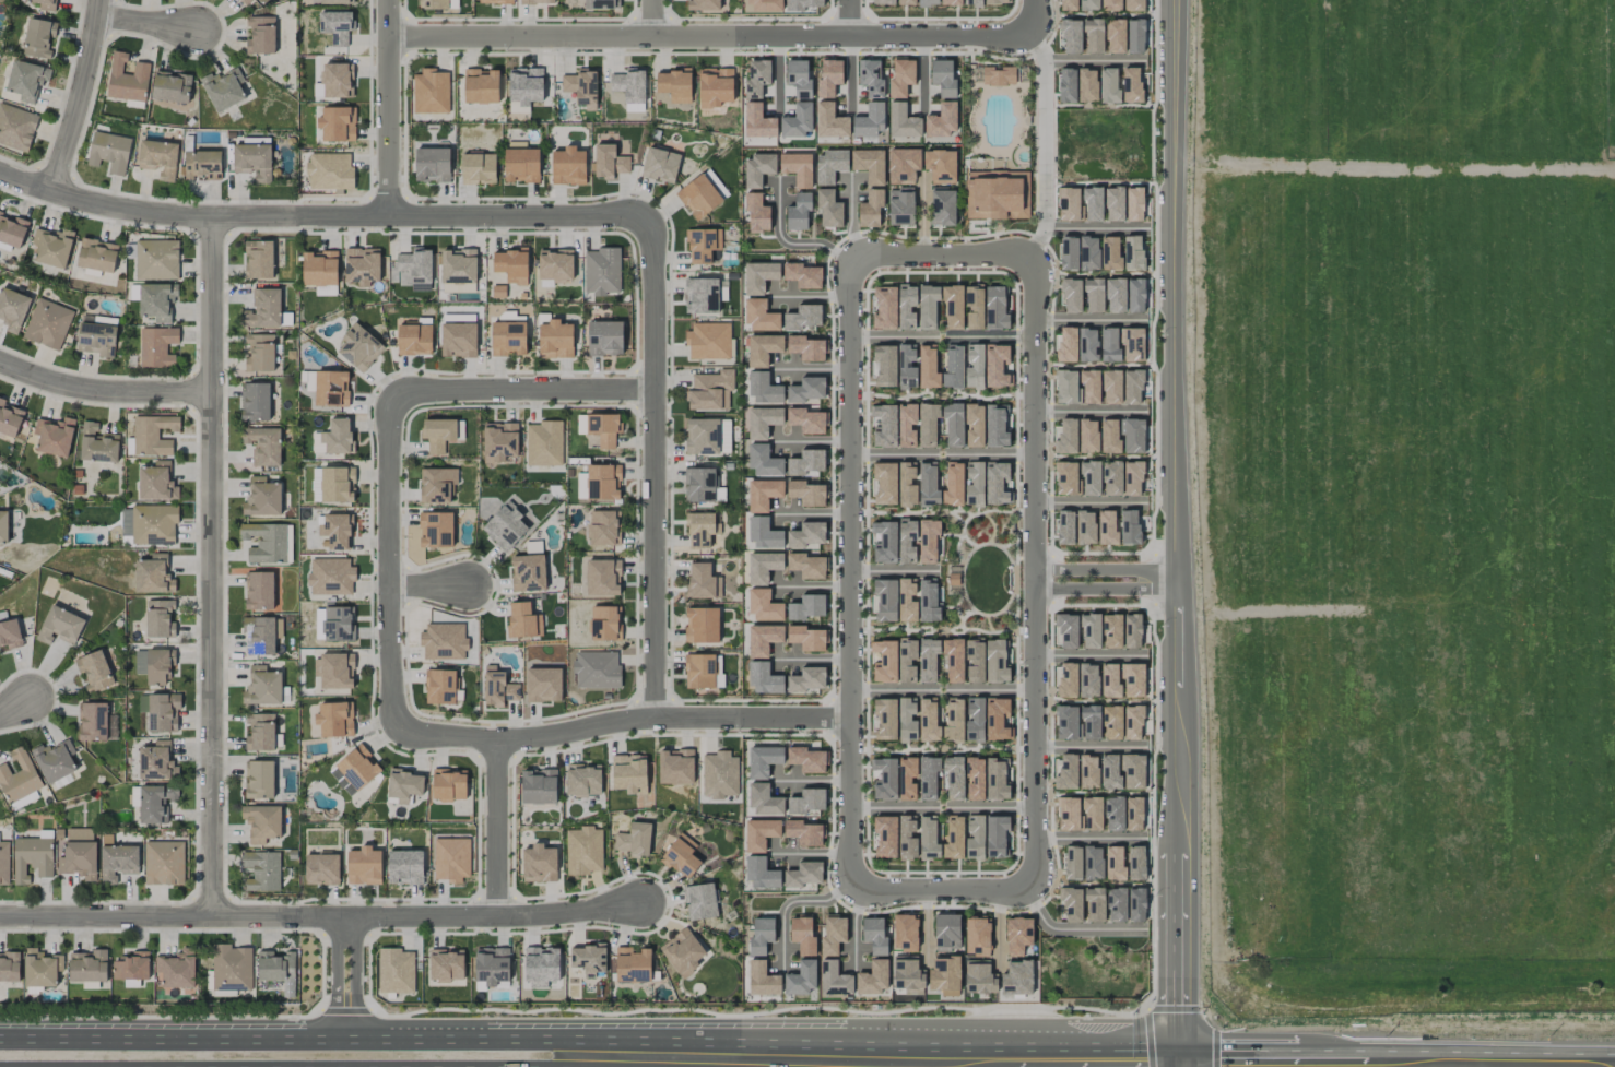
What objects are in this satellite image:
building: (245, 1)
building: (495, 1)
building: (537, 1)
building: (995, 1)
building: (331, 2)
building: (883, 2)
building: (906, 2)
building: (928, 2)
building: (952, 2)
building: (972, 2)
building: (600, 3)
building: (46, 4)
building: (437, 4)
building: (703, 4)
building: (801, 4)
building: (1068, 4)
building: (1088, 4)
building: (1109, 4)
building: (763, 5)
building: (1132, 5)
road: (1029, 16)
road: (651, 17)
road: (848, 19)
road: (151, 22)
building: (337, 26)
building: (260, 35)
building: (1069, 35)
building: (1094, 35)
road: (565, 36)
building: (1115, 36)
building: (1135, 36)
building: (38, 37)
road: (883, 37)
road: (1094, 60)
road: (848, 72)
road: (778, 74)
road: (922, 74)
building: (998, 75)
building: (756, 78)
building: (799, 78)
building: (828, 78)
building: (871, 78)
building: (900, 78)
building: (943, 78)
building: (127, 79)
building: (26, 80)
building: (337, 80)
building: (1087, 84)
building: (1131, 84)
building: (628, 85)
building: (674, 85)
building: (1066, 85)
building: (1108, 85)
building: (170, 86)
building: (481, 86)
building: (581, 86)
building: (715, 86)
building: (224, 88)
building: (524, 88)
building: (431, 92)
road: (82, 96)
road: (390, 108)
building: (798, 120)
building: (870, 120)
building: (942, 120)
building: (758, 121)
building: (829, 121)
building: (901, 121)
building: (337, 123)
building: (16, 127)
building: (256, 141)
road: (1046, 144)
building: (108, 152)
building: (157, 158)
building: (252, 162)
building: (609, 162)
building: (202, 164)
building: (432, 165)
building: (521, 165)
building: (660, 165)
building: (869, 165)
building: (903, 165)
building: (568, 166)
building: (829, 166)
building: (940, 166)
building: (478, 167)
building: (758, 168)
building: (797, 168)
building: (329, 171)
building: (715, 183)
building: (997, 194)
building: (698, 197)
building: (1093, 203)
building: (1113, 203)
building: (1068, 204)
building: (1134, 204)
building: (900, 206)
building: (828, 208)
building: (942, 208)
building: (870, 209)
building: (798, 212)
road: (148, 213)
building: (756, 213)
road: (921, 214)
road: (850, 215)
road: (472, 216)
road: (1097, 227)
building: (12, 230)
road: (788, 242)
building: (702, 245)
building: (51, 247)
building: (1088, 252)
building: (1133, 252)
building: (1068, 253)
building: (1110, 253)
building: (96, 254)
road: (941, 256)
building: (156, 259)
building: (258, 259)
building: (510, 264)
building: (555, 264)
building: (361, 266)
building: (458, 266)
building: (319, 268)
building: (412, 270)
building: (601, 271)
building: (802, 275)
building: (758, 276)
building: (700, 295)
building: (1071, 295)
building: (1094, 295)
building: (1115, 295)
building: (1135, 295)
road: (807, 296)
building: (156, 300)
building: (906, 306)
building: (928, 306)
building: (952, 307)
building: (974, 307)
building: (995, 307)
building: (12, 308)
building: (884, 308)
building: (263, 309)
building: (759, 316)
building: (802, 317)
road: (1089, 320)
building: (47, 323)
road: (892, 336)
road: (991, 336)
building: (96, 339)
building: (508, 339)
building: (604, 339)
building: (414, 340)
building: (458, 340)
building: (555, 340)
building: (708, 341)
building: (1066, 344)
building: (1087, 344)
building: (1109, 344)
building: (1132, 344)
building: (156, 346)
building: (805, 347)
building: (358, 348)
building: (763, 348)
building: (259, 353)
building: (883, 366)
building: (953, 366)
building: (974, 366)
building: (997, 366)
building: (906, 367)
building: (928, 367)
road: (812, 369)
building: (1065, 387)
building: (1089, 387)
building: (1111, 387)
building: (1132, 387)
building: (329, 388)
building: (764, 389)
road: (523, 390)
building: (710, 390)
building: (805, 390)
road: (104, 393)
building: (255, 402)
road: (1087, 411)
building: (9, 419)
building: (806, 419)
building: (763, 422)
building: (928, 424)
building: (884, 425)
building: (907, 425)
building: (953, 425)
building: (974, 425)
building: (995, 426)
building: (599, 428)
building: (438, 434)
building: (724, 434)
building: (153, 435)
building: (1088, 435)
building: (54, 436)
building: (702, 436)
building: (1109, 436)
building: (1132, 436)
building: (338, 437)
building: (1065, 437)
building: (499, 440)
road: (811, 442)
building: (544, 443)
building: (97, 444)
building: (263, 446)
road: (989, 453)
road: (895, 454)
building: (763, 461)
building: (806, 462)
road: (655, 464)
building: (1111, 477)
building: (1066, 478)
building: (1089, 478)
building: (1132, 478)
building: (156, 482)
building: (599, 483)
building: (884, 483)
building: (997, 483)
building: (337, 484)
building: (907, 484)
building: (953, 484)
building: (974, 484)
building: (316, 485)
building: (437, 485)
building: (699, 485)
building: (928, 485)
building: (805, 493)
building: (763, 494)
building: (262, 498)
road: (1089, 503)
crop: (1408, 503)
road: (812, 514)
building: (126, 522)
building: (153, 524)
building: (3, 526)
building: (505, 526)
building: (1129, 526)
building: (603, 527)
building: (1064, 527)
building: (1085, 527)
building: (1107, 527)
building: (435, 530)
building: (700, 530)
road: (1176, 530)
building: (334, 531)
building: (763, 533)
building: (806, 534)
building: (907, 541)
building: (928, 541)
building: (884, 542)
building: (266, 543)
building: (288, 543)
building: (533, 547)
road: (388, 558)
road: (214, 565)
building: (806, 565)
building: (763, 567)
road: (1105, 569)
road: (895, 570)
road: (1034, 571)
building: (528, 572)
road: (852, 572)
building: (153, 574)
building: (330, 576)
building: (602, 577)
building: (702, 581)
road: (428, 582)
road: (811, 586)
building: (259, 590)
road: (1105, 591)
building: (907, 600)
building: (884, 601)
building: (928, 601)
building: (764, 606)
building: (806, 607)
building: (160, 618)
building: (522, 620)
building: (338, 624)
building: (604, 624)
building: (702, 625)
building: (59, 626)
building: (1089, 630)
building: (1066, 631)
building: (1111, 631)
building: (1132, 631)
building: (10, 633)
building: (260, 635)
building: (805, 638)
building: (763, 639)
building: (444, 641)
road: (1089, 655)
road: (811, 659)
building: (907, 660)
building: (928, 660)
building: (975, 660)
building: (884, 661)
building: (953, 661)
building: (995, 662)
building: (154, 665)
building: (718, 668)
building: (597, 669)
building: (94, 671)
building: (335, 671)
building: (699, 671)
building: (764, 679)
building: (1088, 679)
building: (1132, 679)
building: (805, 680)
building: (1066, 680)
building: (1110, 680)
building: (543, 685)
building: (262, 687)
building: (439, 687)
road: (893, 688)
road: (991, 689)
building: (498, 690)
road: (16, 706)
building: (163, 712)
building: (334, 719)
building: (884, 719)
building: (997, 719)
building: (907, 720)
building: (953, 720)
building: (974, 720)
building: (92, 721)
building: (928, 721)
road: (618, 722)
building: (1065, 722)
building: (1089, 722)
building: (1111, 722)
building: (1133, 722)
building: (260, 732)
road: (1089, 747)
building: (806, 759)
building: (55, 760)
building: (763, 760)
building: (156, 761)
building: (675, 767)
building: (354, 770)
building: (1088, 771)
building: (1109, 771)
building: (1132, 771)
building: (1065, 772)
building: (628, 773)
building: (719, 774)
building: (19, 776)
building: (928, 778)
building: (953, 778)
building: (974, 778)
building: (259, 779)
building: (884, 779)
building: (907, 779)
building: (583, 780)
road: (811, 780)
building: (995, 781)
building: (448, 784)
building: (404, 785)
building: (538, 786)
building: (26, 799)
building: (764, 801)
building: (807, 801)
building: (155, 803)
road: (892, 808)
road: (990, 809)
building: (1113, 813)
building: (1080, 814)
building: (1134, 814)
building: (261, 822)
road: (495, 830)
building: (804, 832)
building: (759, 833)
building: (995, 835)
building: (884, 837)
building: (975, 837)
building: (907, 838)
building: (954, 838)
road: (1089, 838)
building: (928, 839)
building: (634, 840)
building: (583, 850)
building: (79, 853)
road: (806, 854)
building: (681, 856)
building: (32, 858)
building: (451, 859)
building: (118, 862)
building: (4, 863)
building: (164, 863)
building: (1072, 863)
building: (1093, 863)
building: (1113, 863)
building: (1136, 863)
building: (539, 864)
building: (364, 866)
building: (404, 867)
building: (321, 869)
building: (261, 870)
building: (761, 874)
building: (803, 875)
road: (939, 889)
building: (700, 901)
road: (789, 904)
building: (1070, 904)
building: (1094, 904)
building: (1116, 904)
building: (1136, 904)
road: (173, 913)
road: (484, 918)
road: (854, 927)
road: (926, 928)
building: (946, 932)
road: (998, 932)
building: (905, 933)
road: (1070, 933)
building: (761, 935)
building: (802, 935)
building: (833, 935)
building: (874, 935)
building: (1017, 935)
building: (977, 936)
building: (682, 952)
building: (588, 959)
building: (446, 964)
building: (274, 965)
building: (491, 965)
building: (632, 965)
building: (10, 967)
building: (87, 967)
building: (131, 967)
building: (540, 967)
building: (40, 968)
building: (231, 968)
building: (175, 970)
building: (396, 971)
building: (906, 974)
building: (945, 975)
building: (801, 977)
building: (873, 977)
building: (979, 977)
building: (1017, 977)
building: (833, 979)
building: (762, 980)
road: (337, 996)
road: (428, 1034)
road: (447, 1046)
road: (59, 1048)
road: (208, 1050)
road: (613, 1051)
road: (820, 1058)
road: (1096, 1058)
traffic signals: (1184, 1059)
road: (1259, 1059)
road: (1474, 1060)
road: (624, 1063)
road: (1184, 1063)

